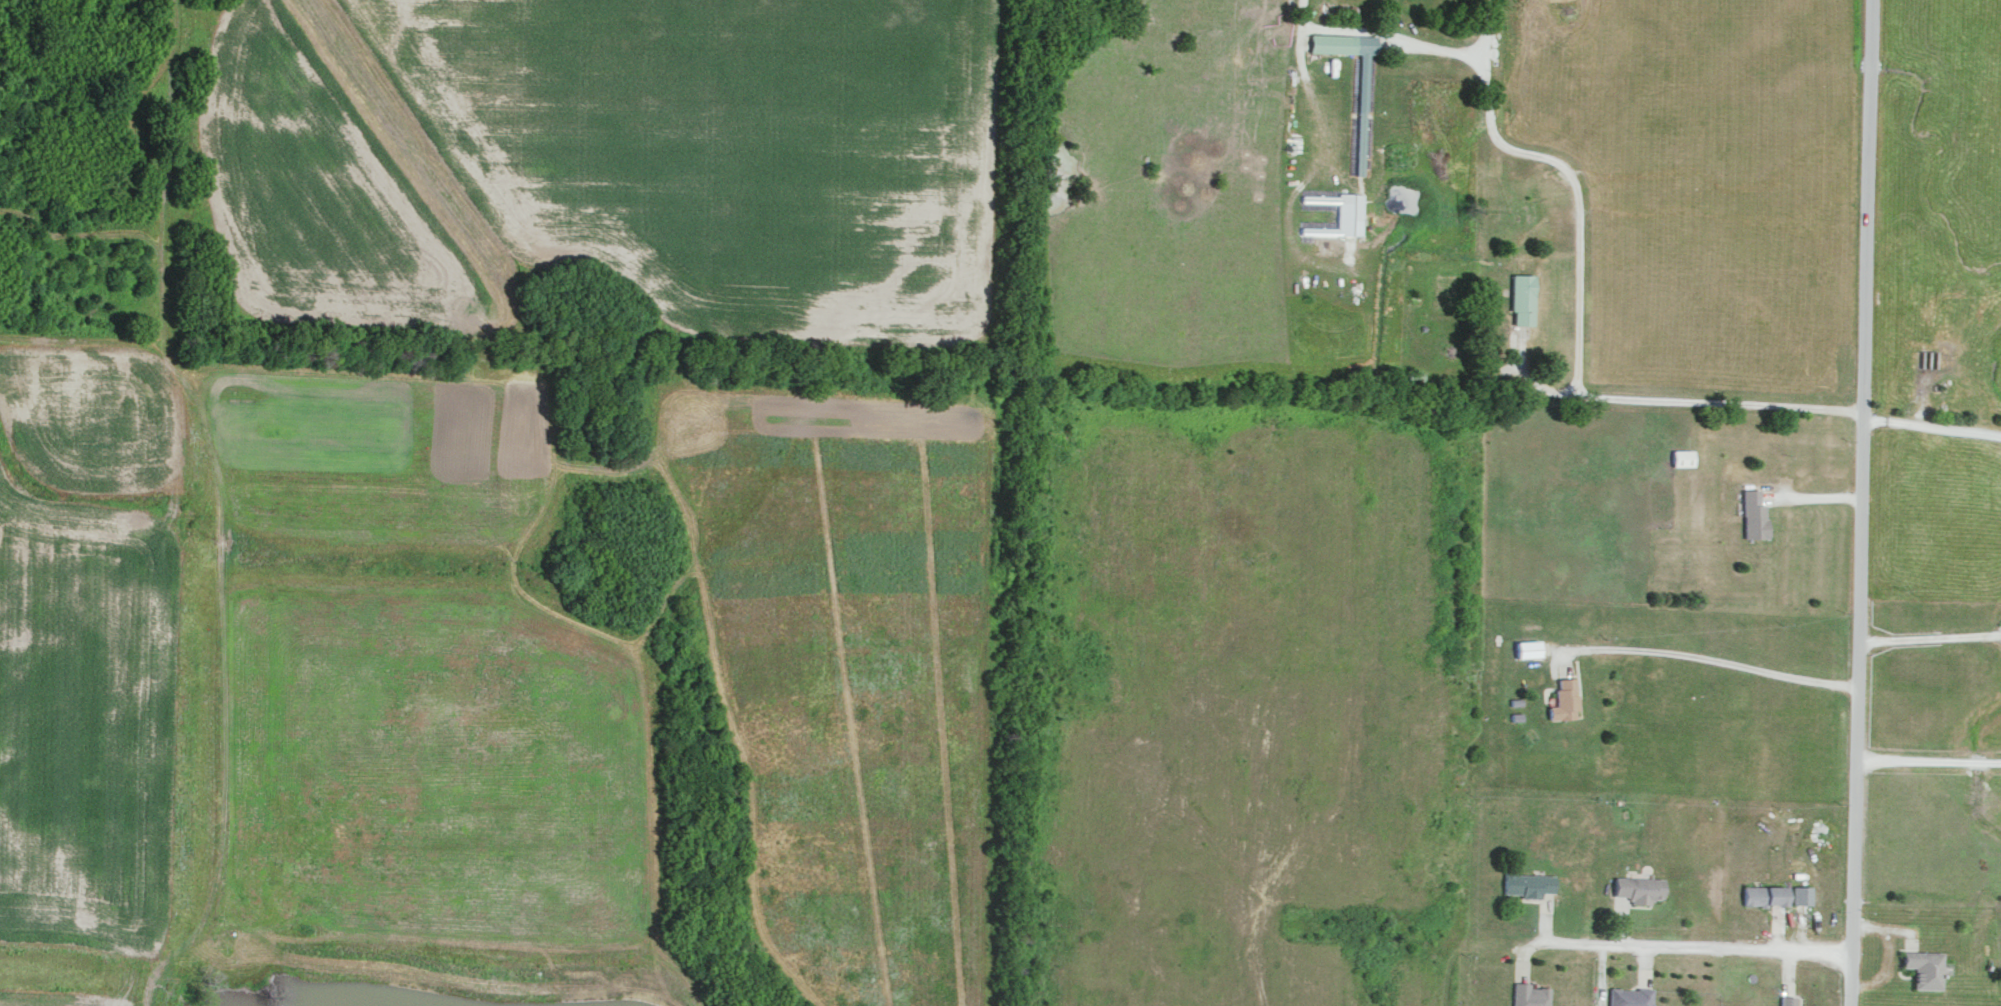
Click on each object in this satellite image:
road: (1381, 38)
building: (1523, 299)
road: (1579, 309)
road: (1931, 426)
building: (1682, 456)
road: (1860, 502)
building: (1754, 513)
road: (1929, 638)
building: (1526, 647)
road: (1706, 658)
building: (1564, 699)
road: (1928, 760)
building: (1527, 883)
building: (1639, 887)
building: (1801, 893)
building: (1764, 894)
road: (1670, 946)
building: (1924, 967)
building: (1530, 994)
building: (1630, 996)
building: (1788, 1000)

